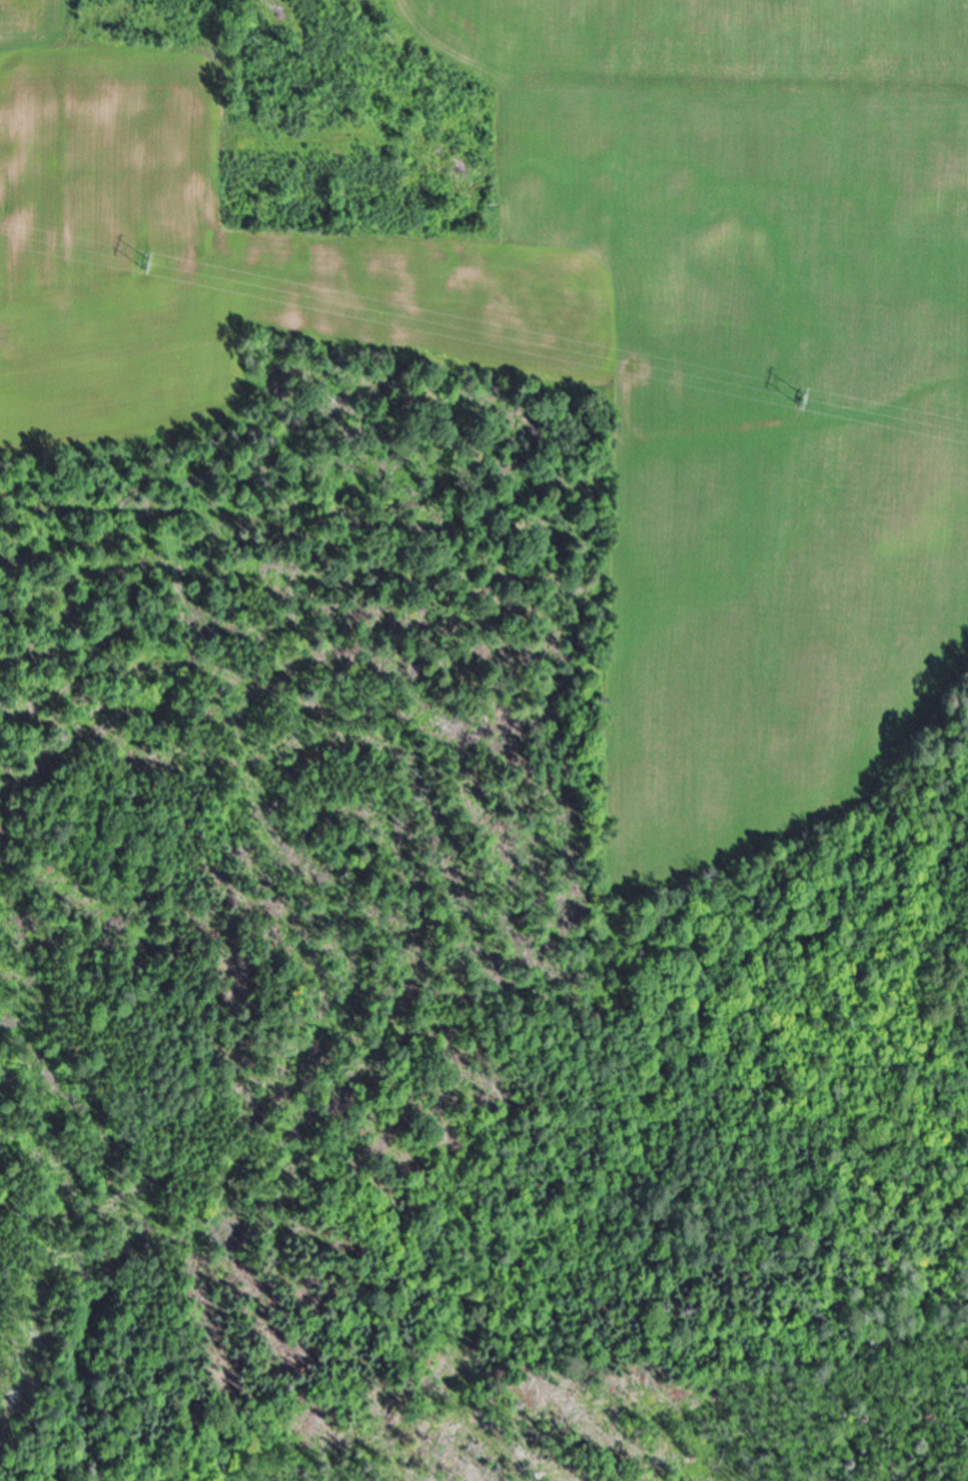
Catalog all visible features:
power tower: (147, 265)
power tower: (804, 402)

